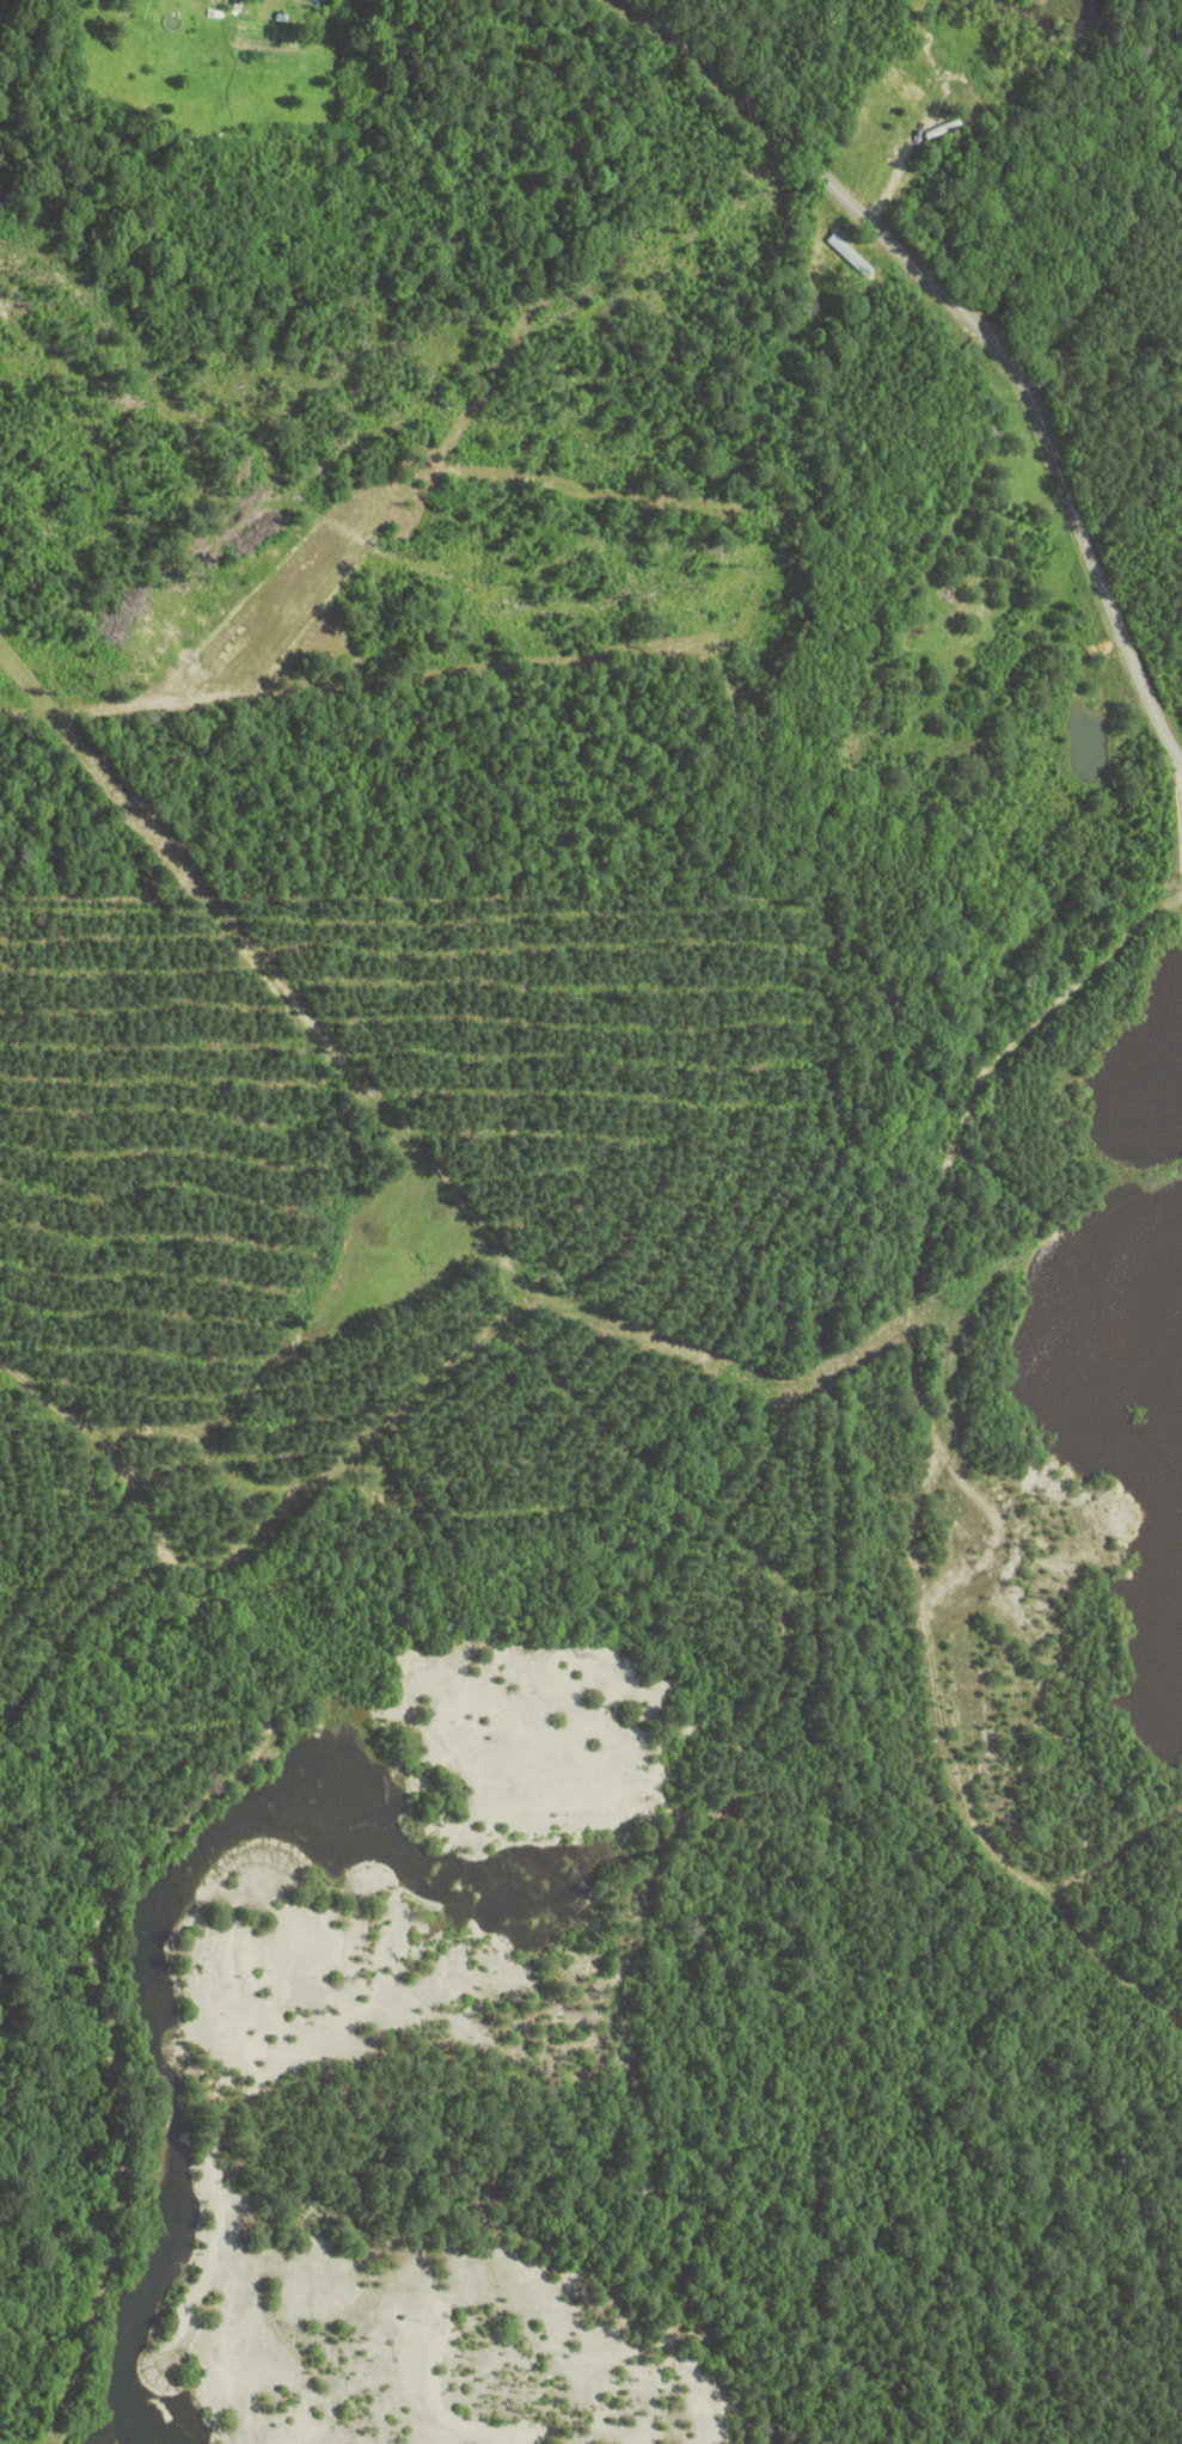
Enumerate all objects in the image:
building: (910, 90)
road: (974, 326)
road: (88, 1570)

